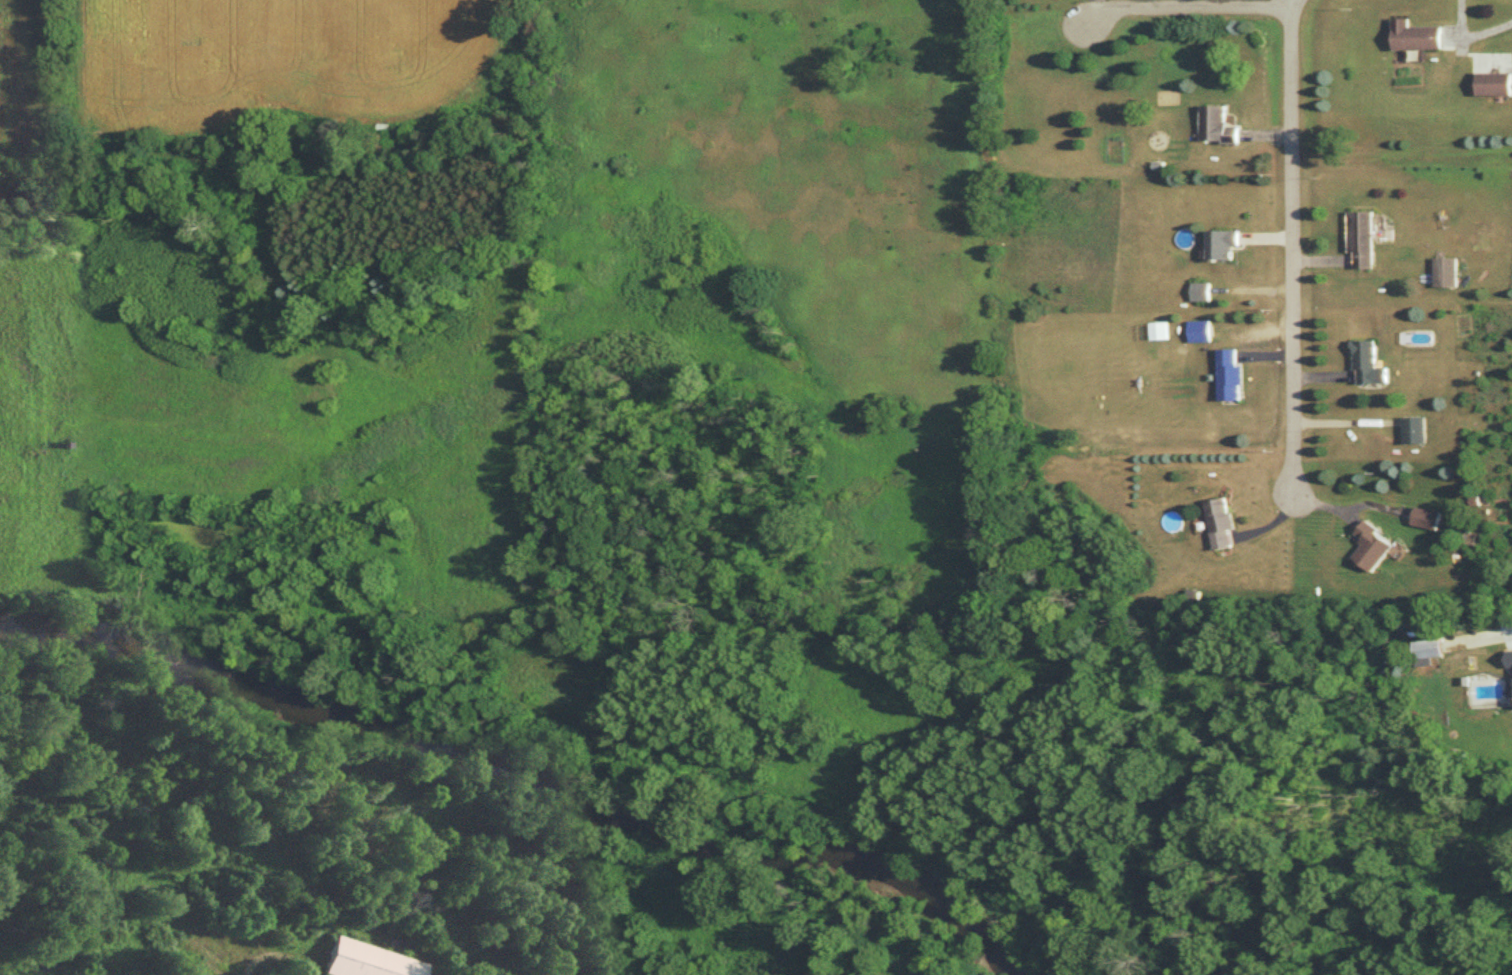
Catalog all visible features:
road: (1186, 9)
road: (1471, 35)
building: (1415, 38)
building: (1494, 85)
building: (1218, 128)
building: (1362, 241)
building: (1223, 246)
road: (1293, 250)
building: (1446, 274)
building: (1202, 293)
building: (1161, 333)
building: (1201, 333)
building: (1369, 366)
building: (1232, 376)
building: (1416, 432)
building: (1428, 521)
building: (1223, 526)
building: (1374, 549)
building: (1430, 651)
building: (1510, 666)
river: (536, 785)
road: (269, 955)
building: (359, 962)

